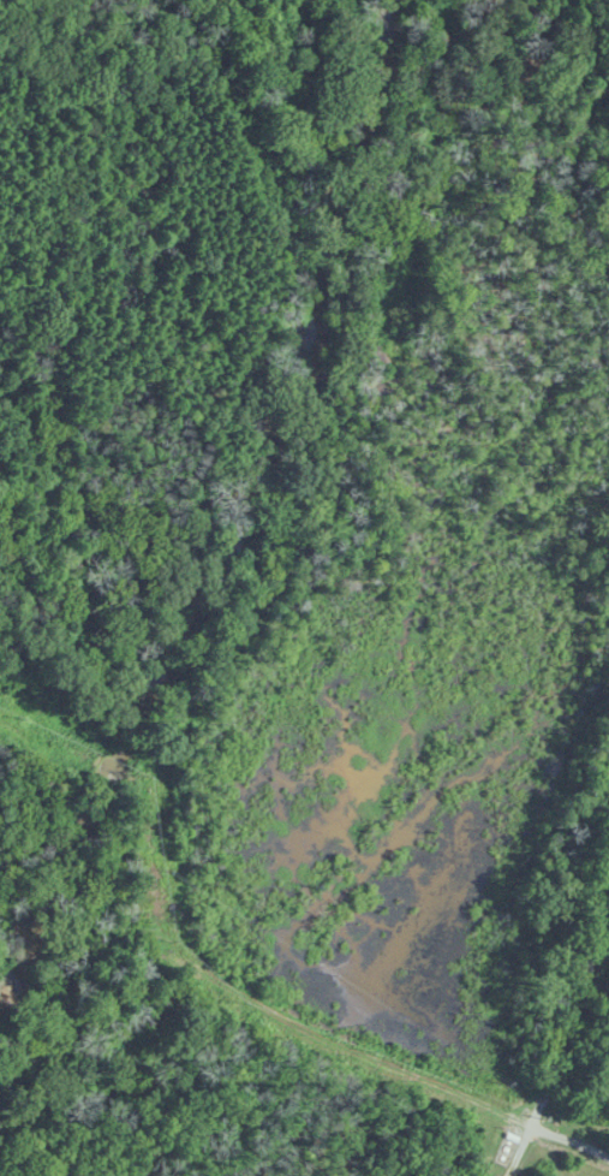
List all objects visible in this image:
road: (574, 1142)

